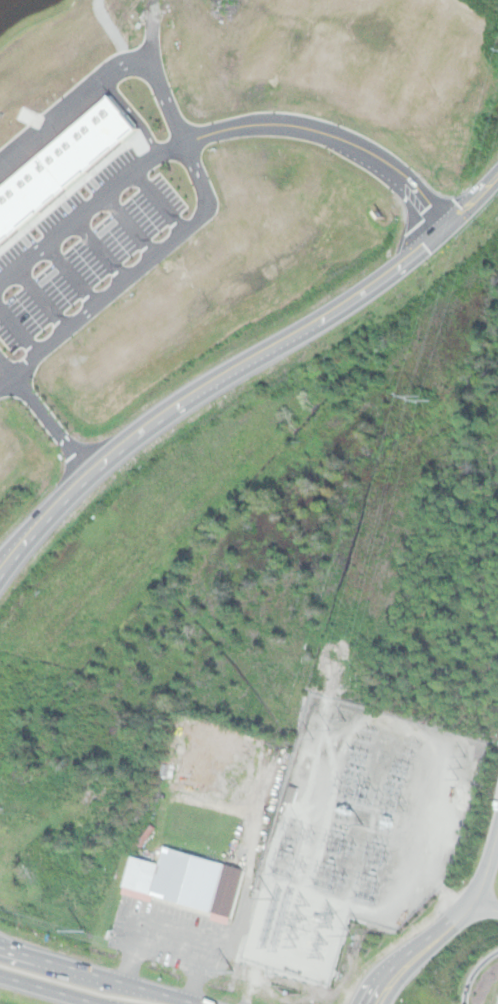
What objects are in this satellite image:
road: (190, 159)
building: (61, 162)
traffic signals: (438, 237)
road: (261, 354)
power tower: (424, 399)
road: (53, 421)
road: (14, 545)
road: (14, 555)
power tower: (328, 726)
power tower: (460, 764)
power substation: (356, 829)
building: (186, 879)
road: (468, 905)
road: (485, 905)
road: (170, 936)
road: (100, 974)
road: (383, 974)
road: (399, 980)
road: (51, 989)

